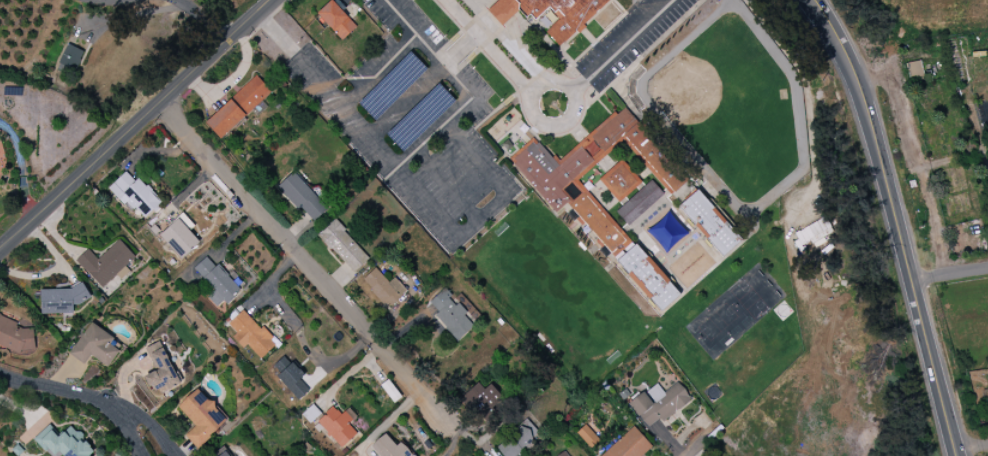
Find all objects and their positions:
building: (550, 14)
road: (208, 18)
building: (336, 20)
road: (498, 44)
road: (619, 46)
road: (464, 48)
building: (70, 58)
building: (914, 70)
road: (380, 71)
road: (548, 83)
road: (463, 90)
road: (406, 102)
building: (237, 107)
road: (134, 124)
road: (21, 167)
building: (552, 181)
building: (619, 181)
road: (409, 184)
road: (447, 186)
building: (135, 194)
building: (302, 197)
building: (639, 203)
building: (709, 223)
road: (895, 223)
building: (812, 234)
building: (180, 237)
building: (343, 246)
road: (303, 257)
building: (106, 263)
building: (648, 277)
road: (949, 277)
building: (217, 282)
building: (384, 288)
building: (61, 300)
building: (450, 315)
building: (250, 334)
building: (16, 336)
building: (94, 346)
building: (160, 369)
building: (293, 380)
road: (84, 397)
building: (477, 398)
building: (659, 403)
building: (201, 417)
road: (153, 425)
building: (338, 425)
road: (453, 436)
building: (517, 440)
building: (64, 443)
road: (700, 444)
building: (629, 445)
road: (972, 446)
building: (388, 448)
building: (224, 454)
building: (563, 454)

